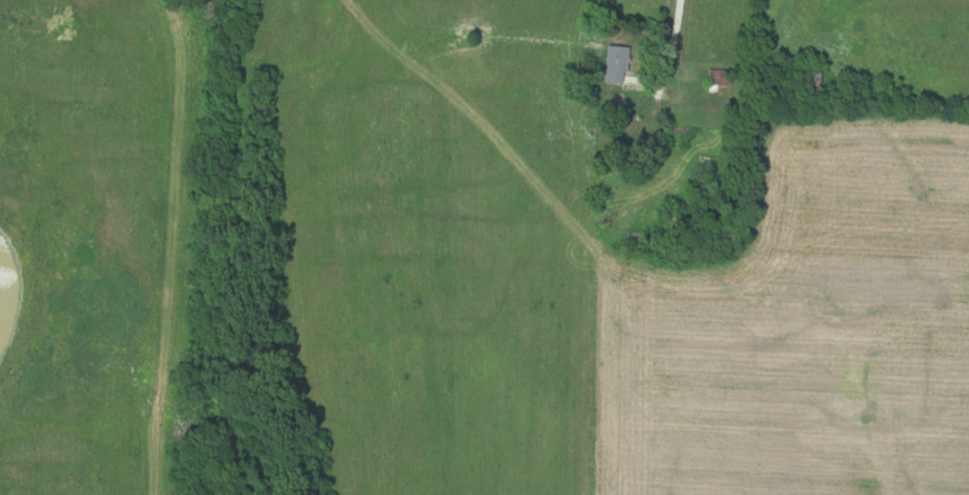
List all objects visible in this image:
road: (676, 40)
building: (615, 64)
building: (722, 78)
building: (810, 91)
crop: (801, 331)

